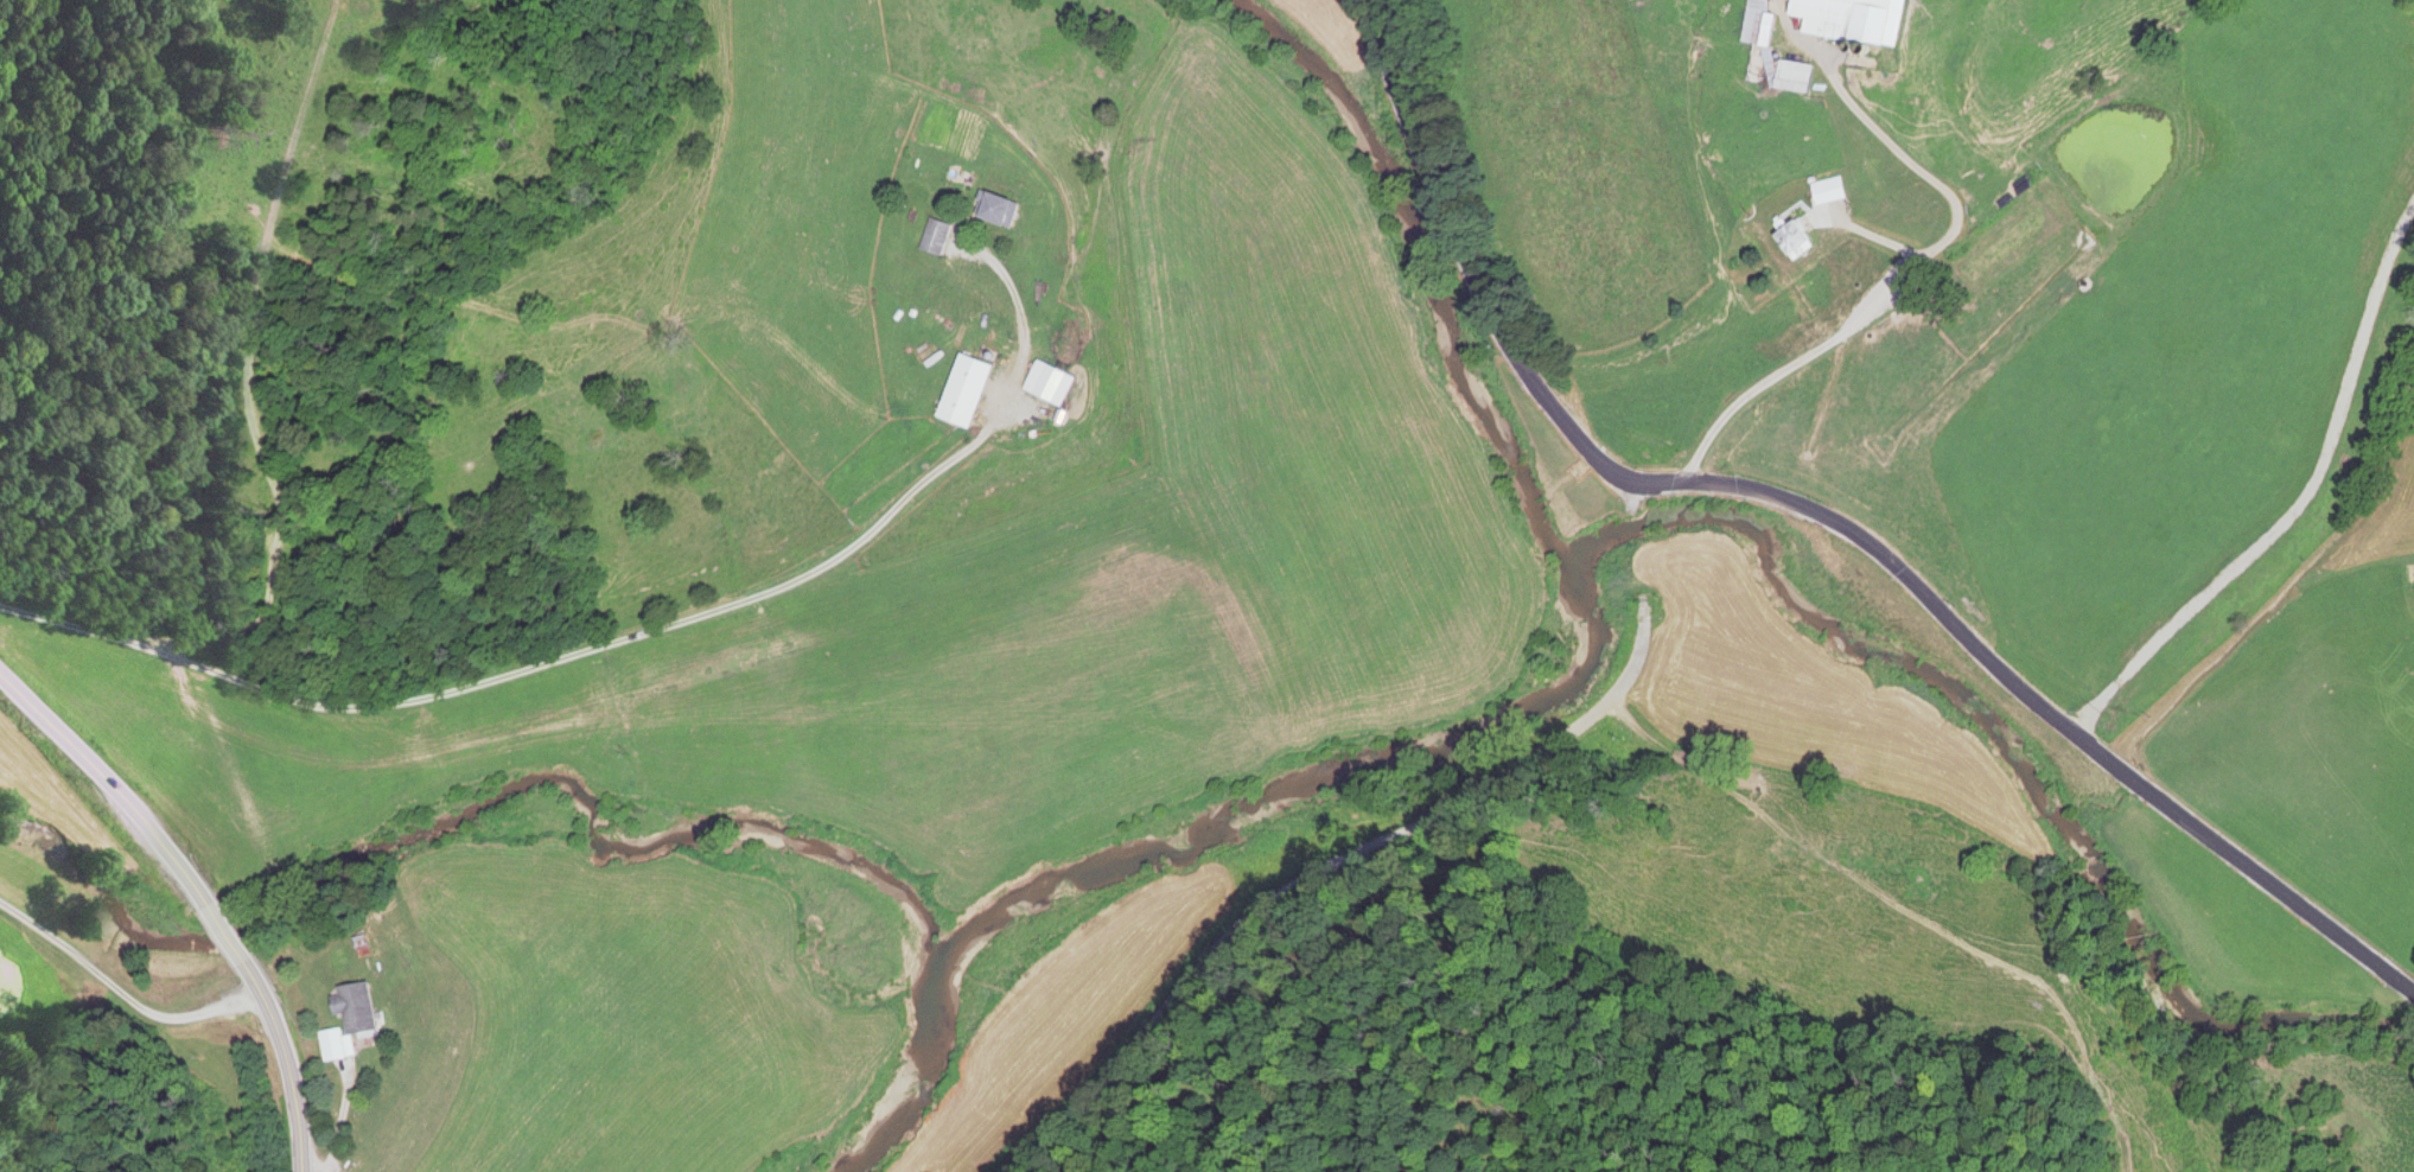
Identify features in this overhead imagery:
building: (1856, 20)
building: (1776, 52)
building: (1833, 191)
building: (1013, 211)
building: (1803, 235)
building: (943, 237)
road: (1477, 274)
river: (1427, 280)
building: (975, 391)
road: (626, 642)
road: (2043, 711)
river: (1189, 840)
road: (1380, 881)
road: (200, 893)
road: (122, 991)
building: (364, 1008)
building: (343, 1045)

